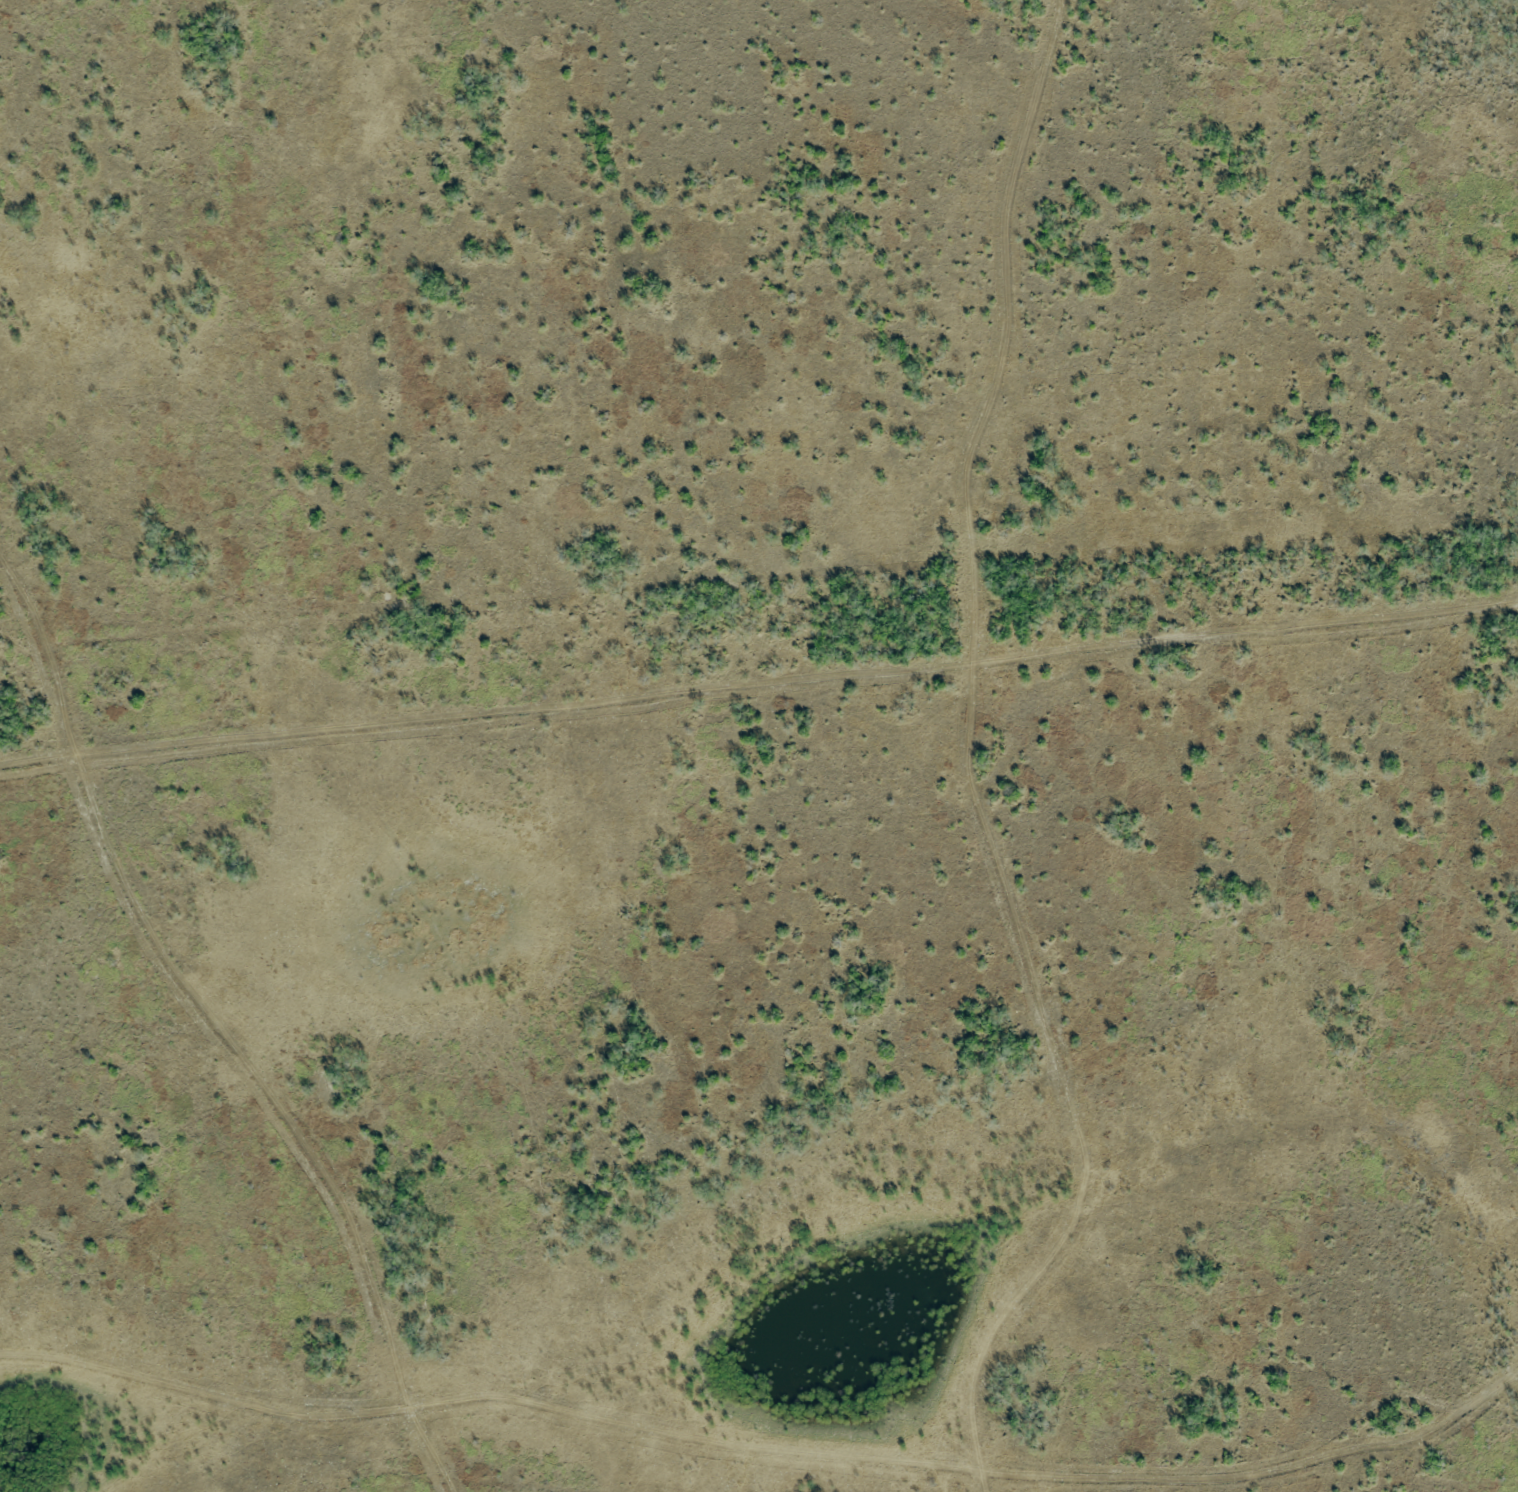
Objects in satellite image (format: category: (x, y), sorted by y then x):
road: (236, 1012)

